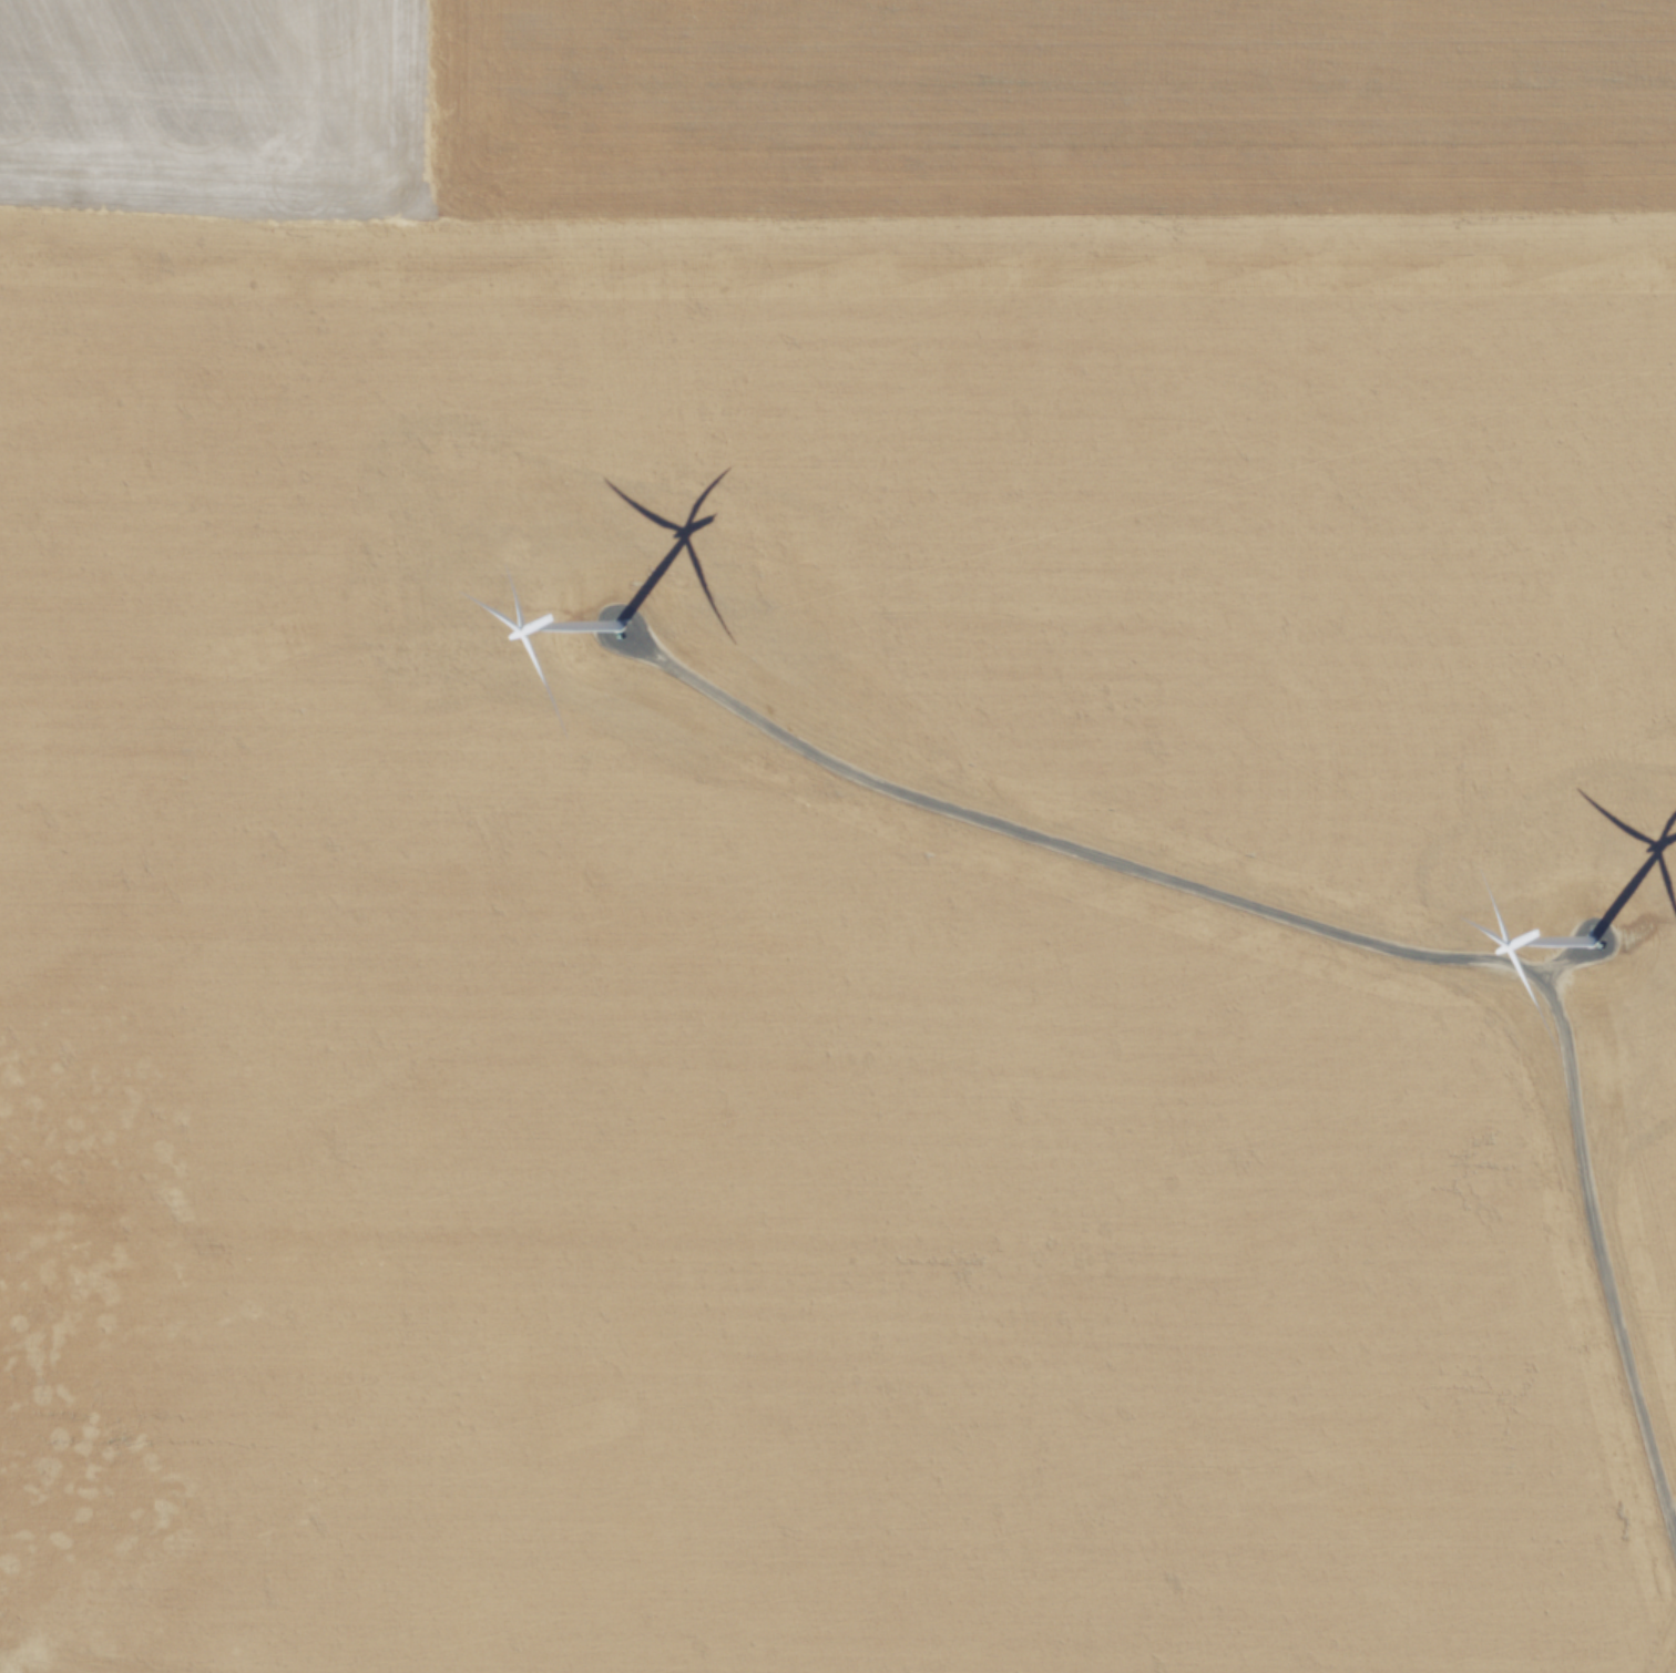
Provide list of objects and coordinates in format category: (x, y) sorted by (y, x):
wind turbine: (615, 623)
road: (1343, 932)
wind turbine: (1590, 940)

